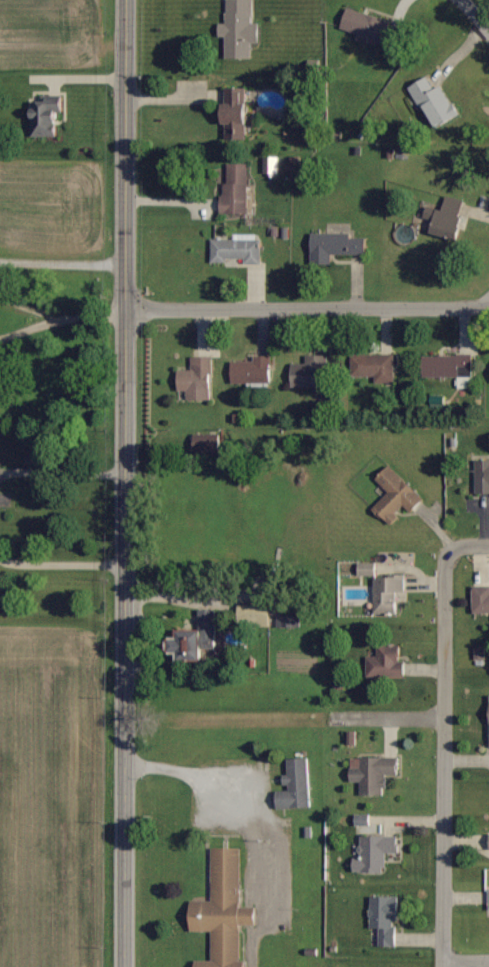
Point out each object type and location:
road: (475, 13)
building: (371, 28)
building: (240, 29)
road: (67, 76)
road: (189, 96)
building: (436, 104)
building: (45, 114)
building: (236, 114)
building: (272, 166)
building: (236, 193)
road: (172, 200)
road: (125, 202)
building: (447, 218)
building: (404, 232)
building: (335, 247)
building: (237, 250)
road: (306, 309)
road: (61, 320)
building: (374, 367)
building: (451, 369)
building: (252, 372)
building: (312, 376)
building: (198, 381)
building: (208, 444)
building: (482, 478)
building: (397, 497)
road: (466, 550)
road: (61, 563)
building: (367, 569)
building: (388, 594)
building: (481, 599)
building: (255, 614)
building: (288, 621)
building: (198, 638)
building: (387, 663)
road: (123, 686)
road: (443, 759)
building: (374, 774)
building: (296, 786)
building: (368, 825)
building: (376, 854)
building: (224, 910)
building: (386, 919)
road: (465, 960)

